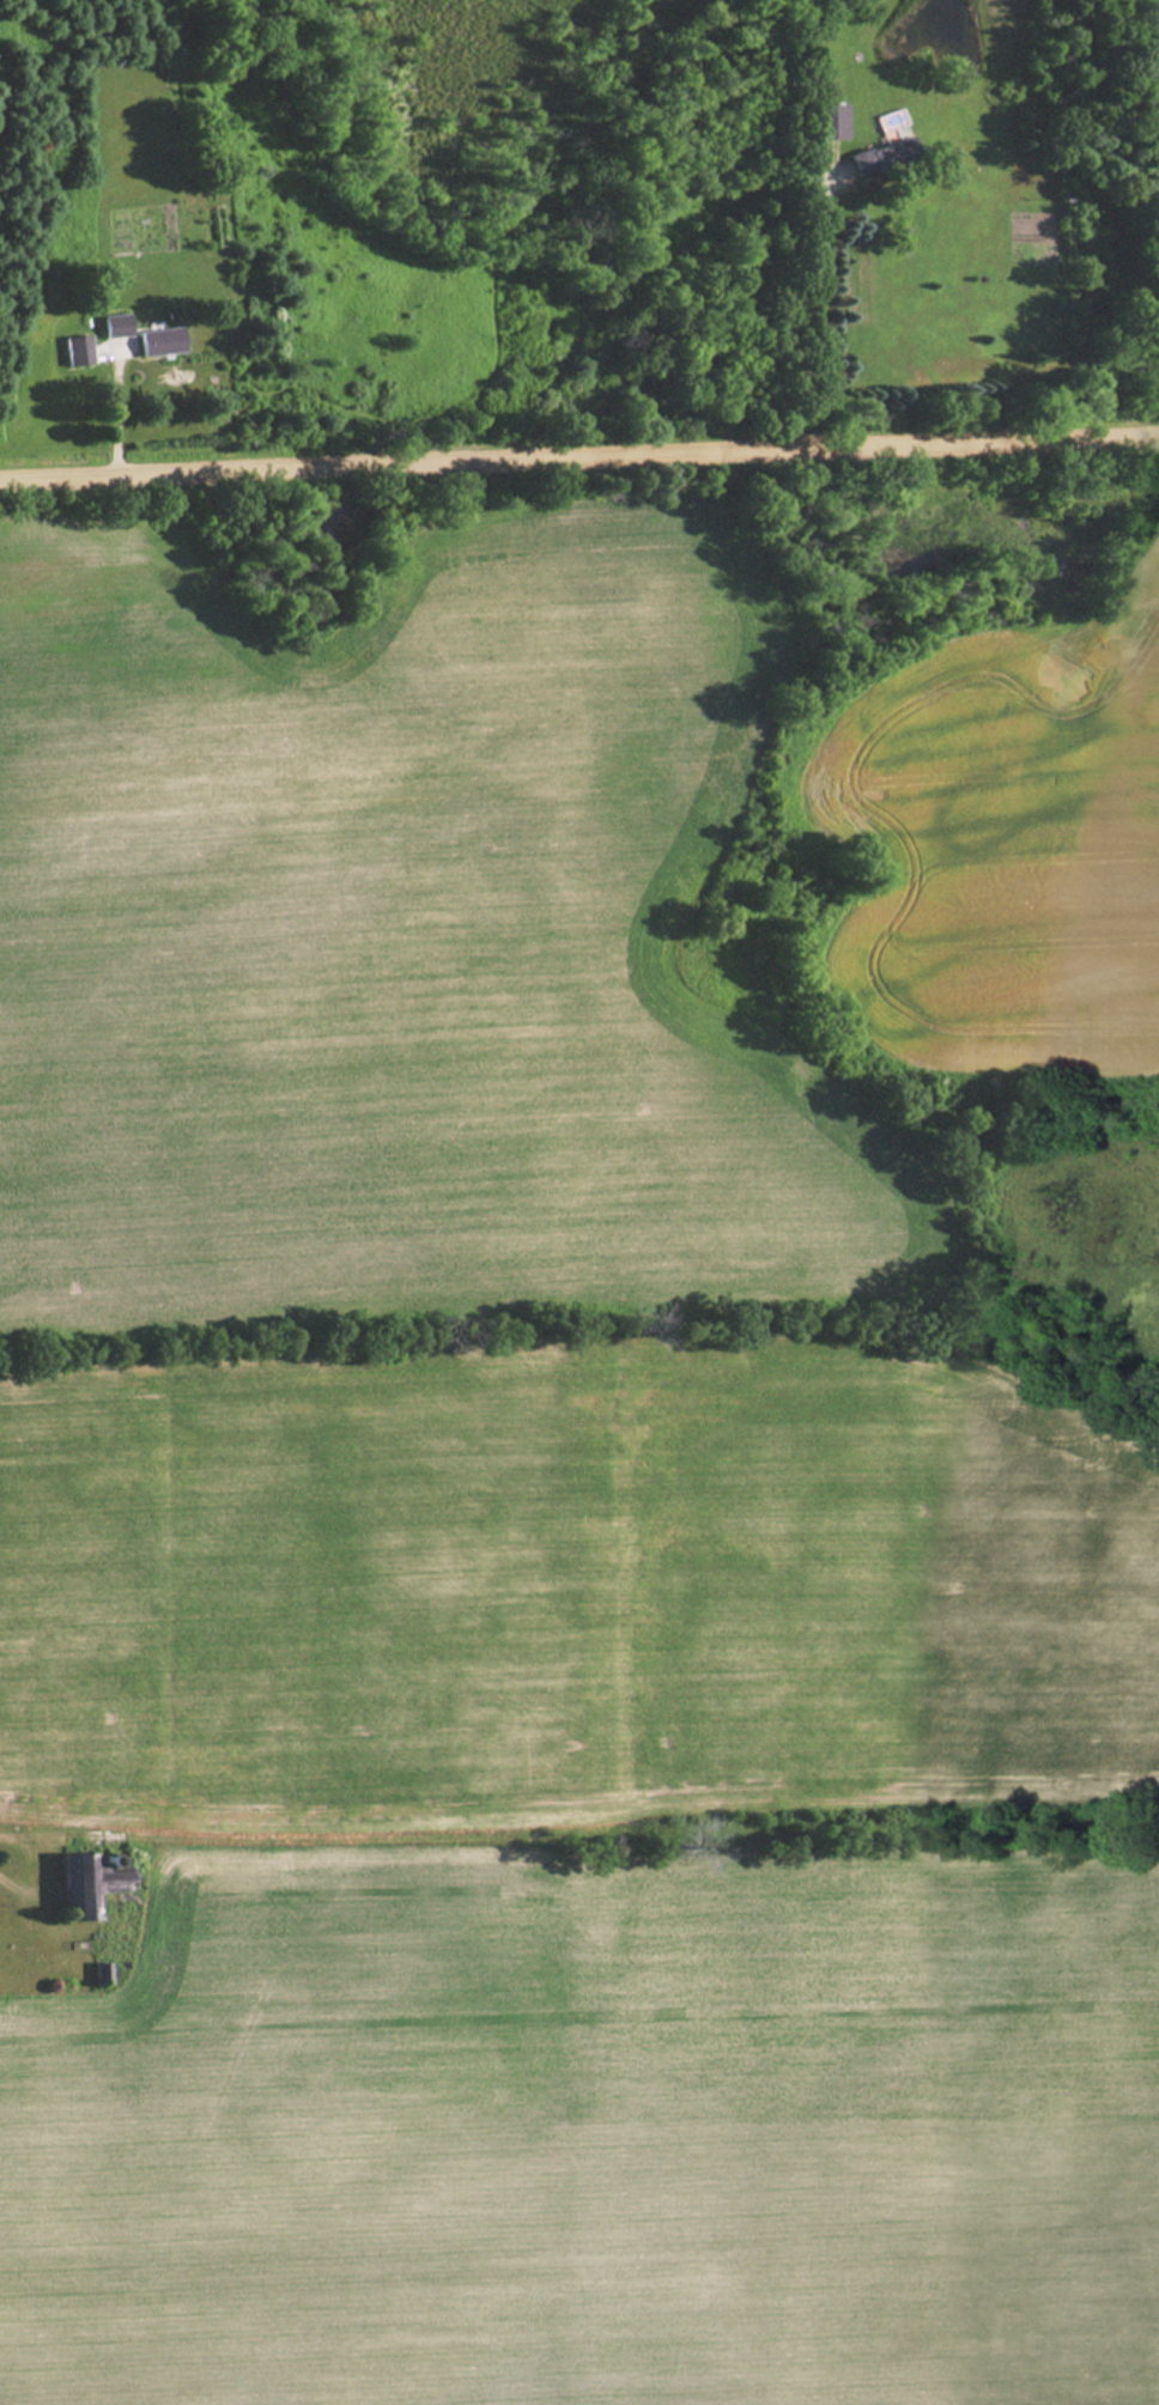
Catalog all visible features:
building: (881, 154)
road: (809, 305)
building: (114, 324)
building: (158, 340)
building: (77, 348)
road: (116, 401)
road: (578, 444)
building: (89, 1883)

